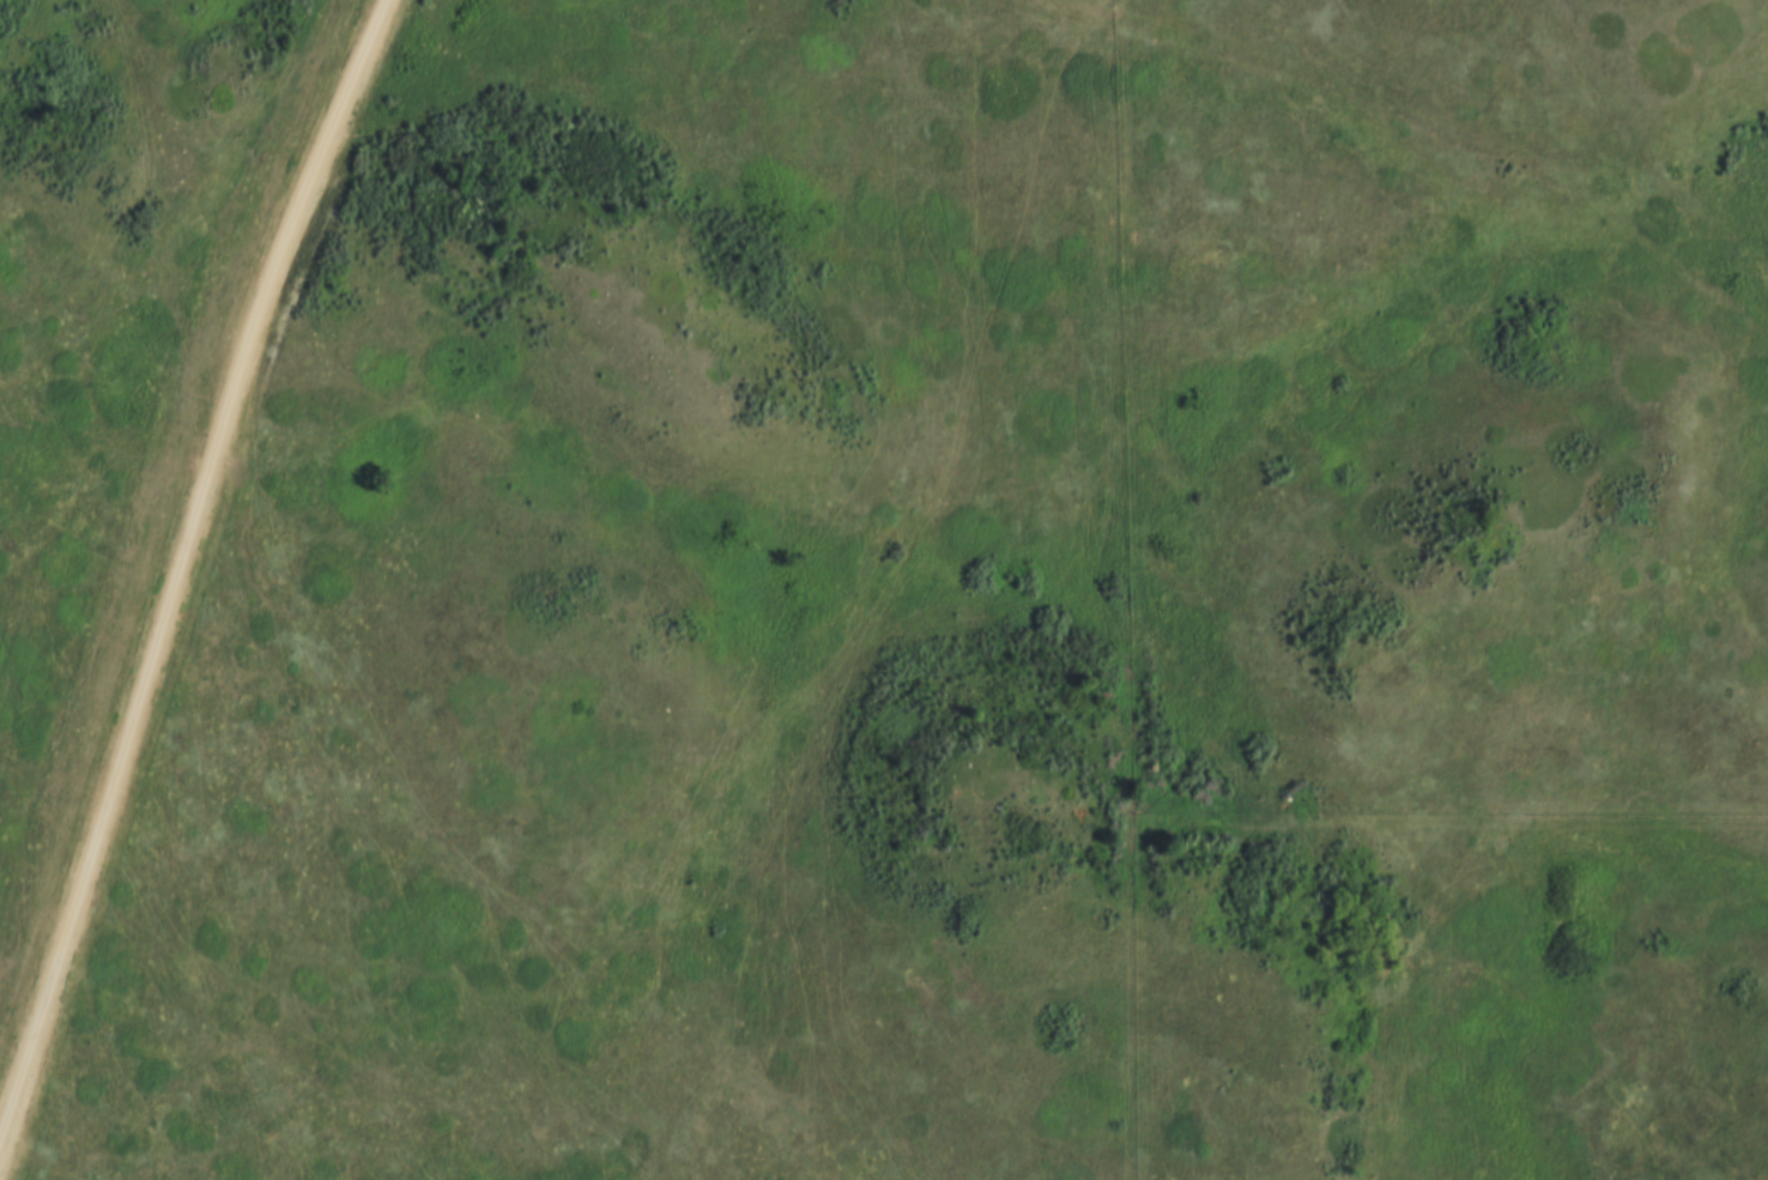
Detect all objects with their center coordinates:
road: (174, 550)

